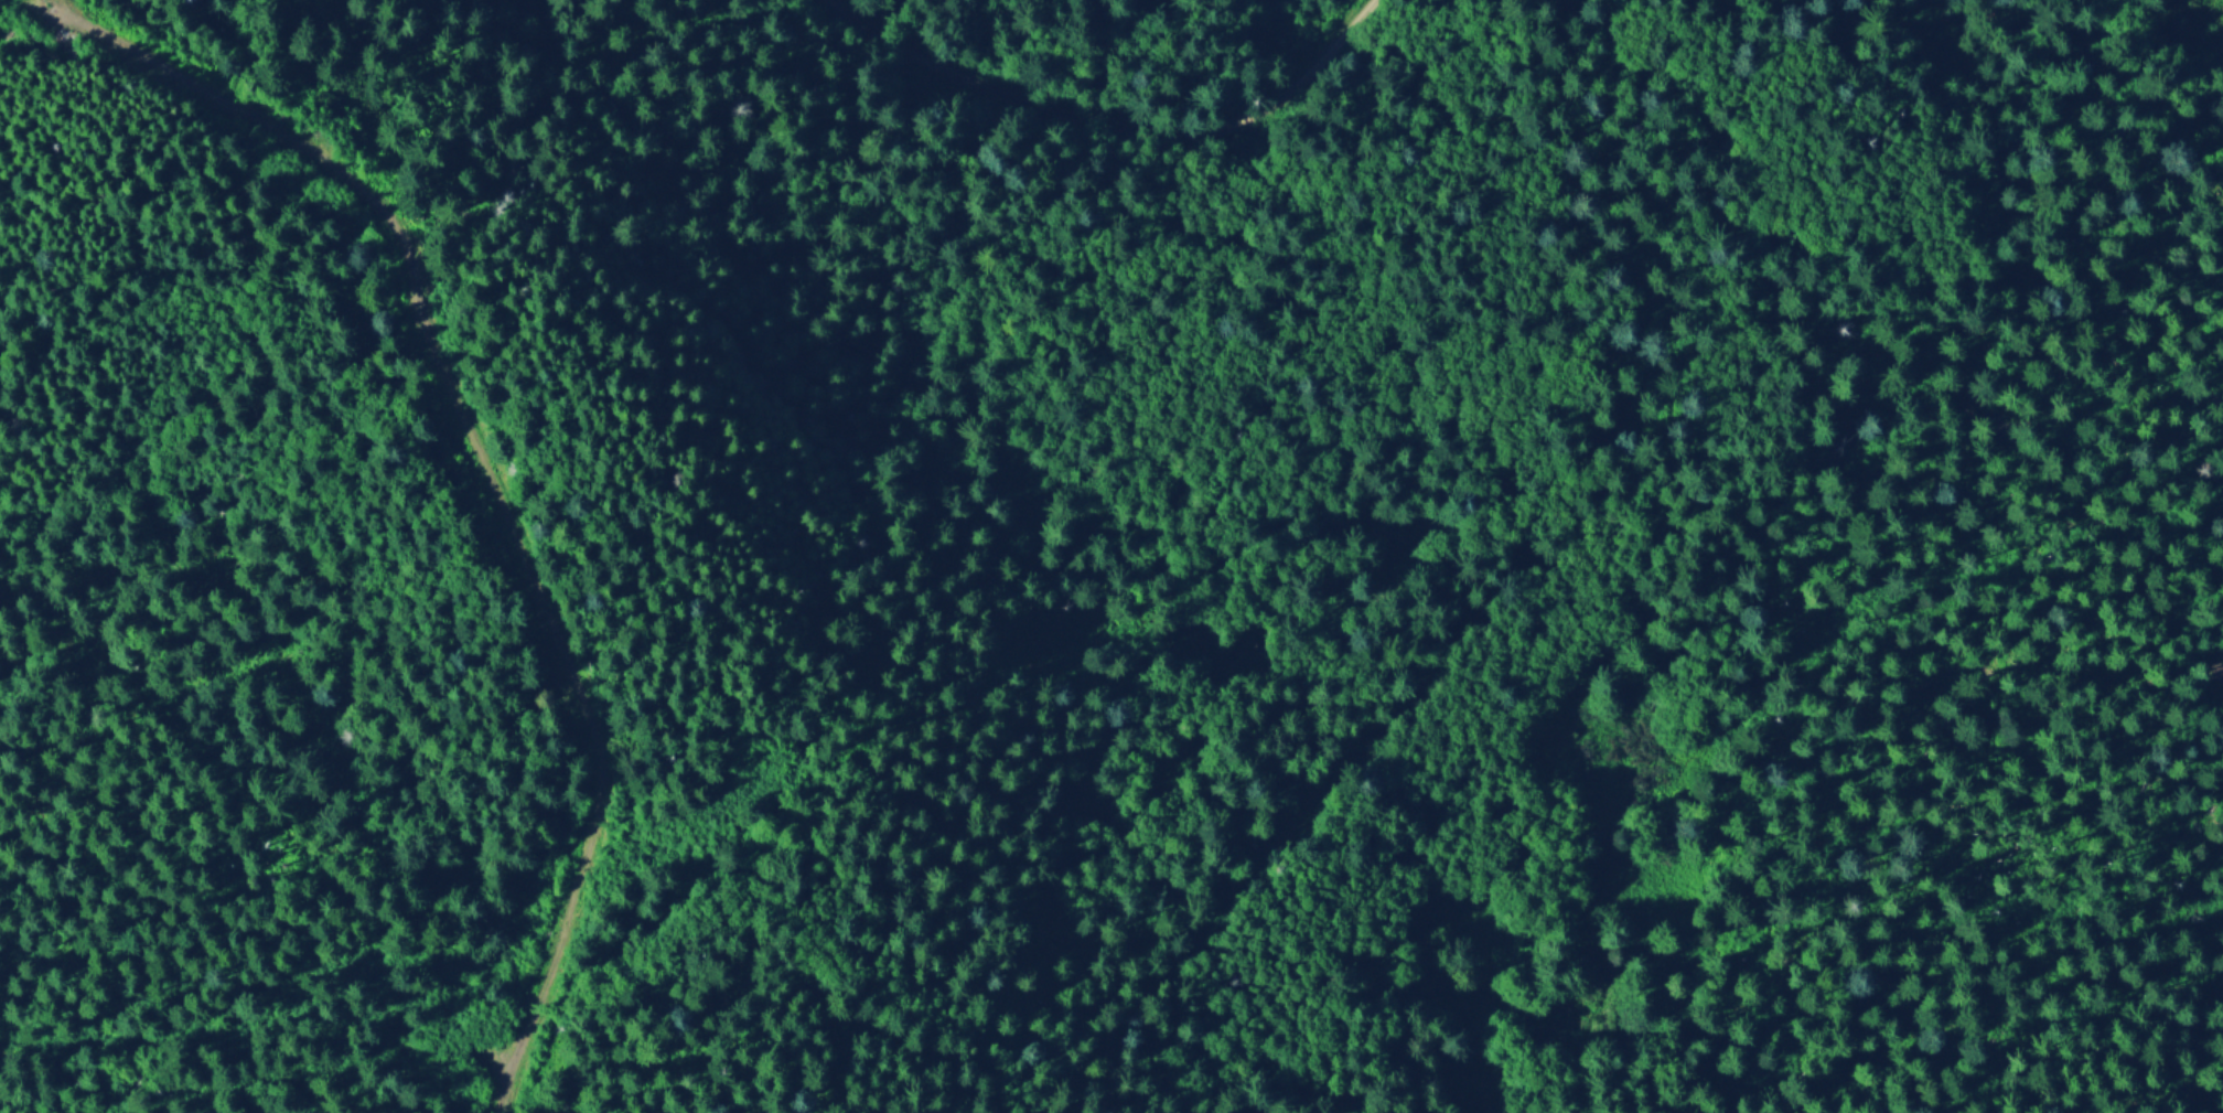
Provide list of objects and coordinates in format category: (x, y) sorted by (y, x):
road: (1107, 132)
road: (452, 399)
road: (600, 908)

